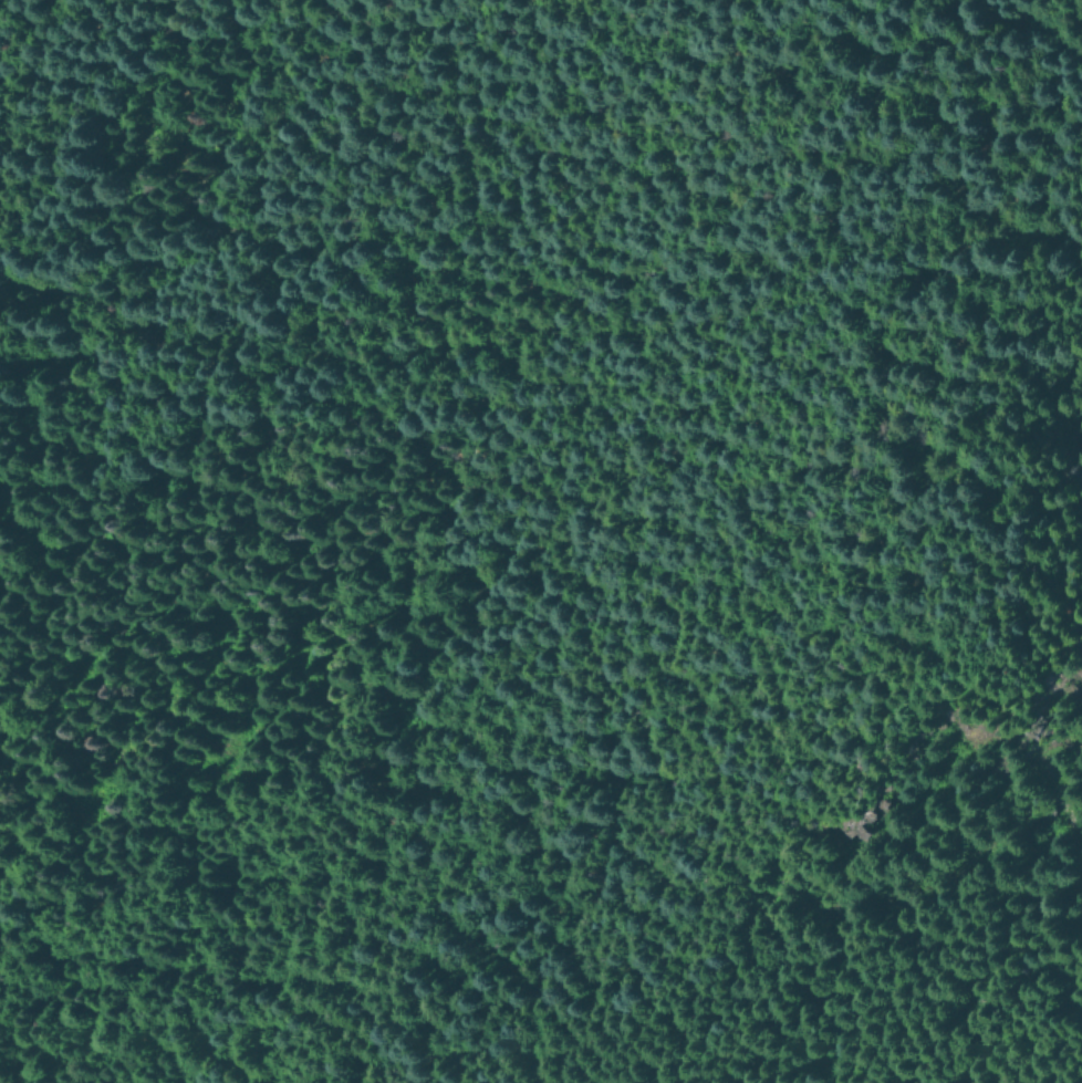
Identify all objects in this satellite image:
road: (1063, 8)

